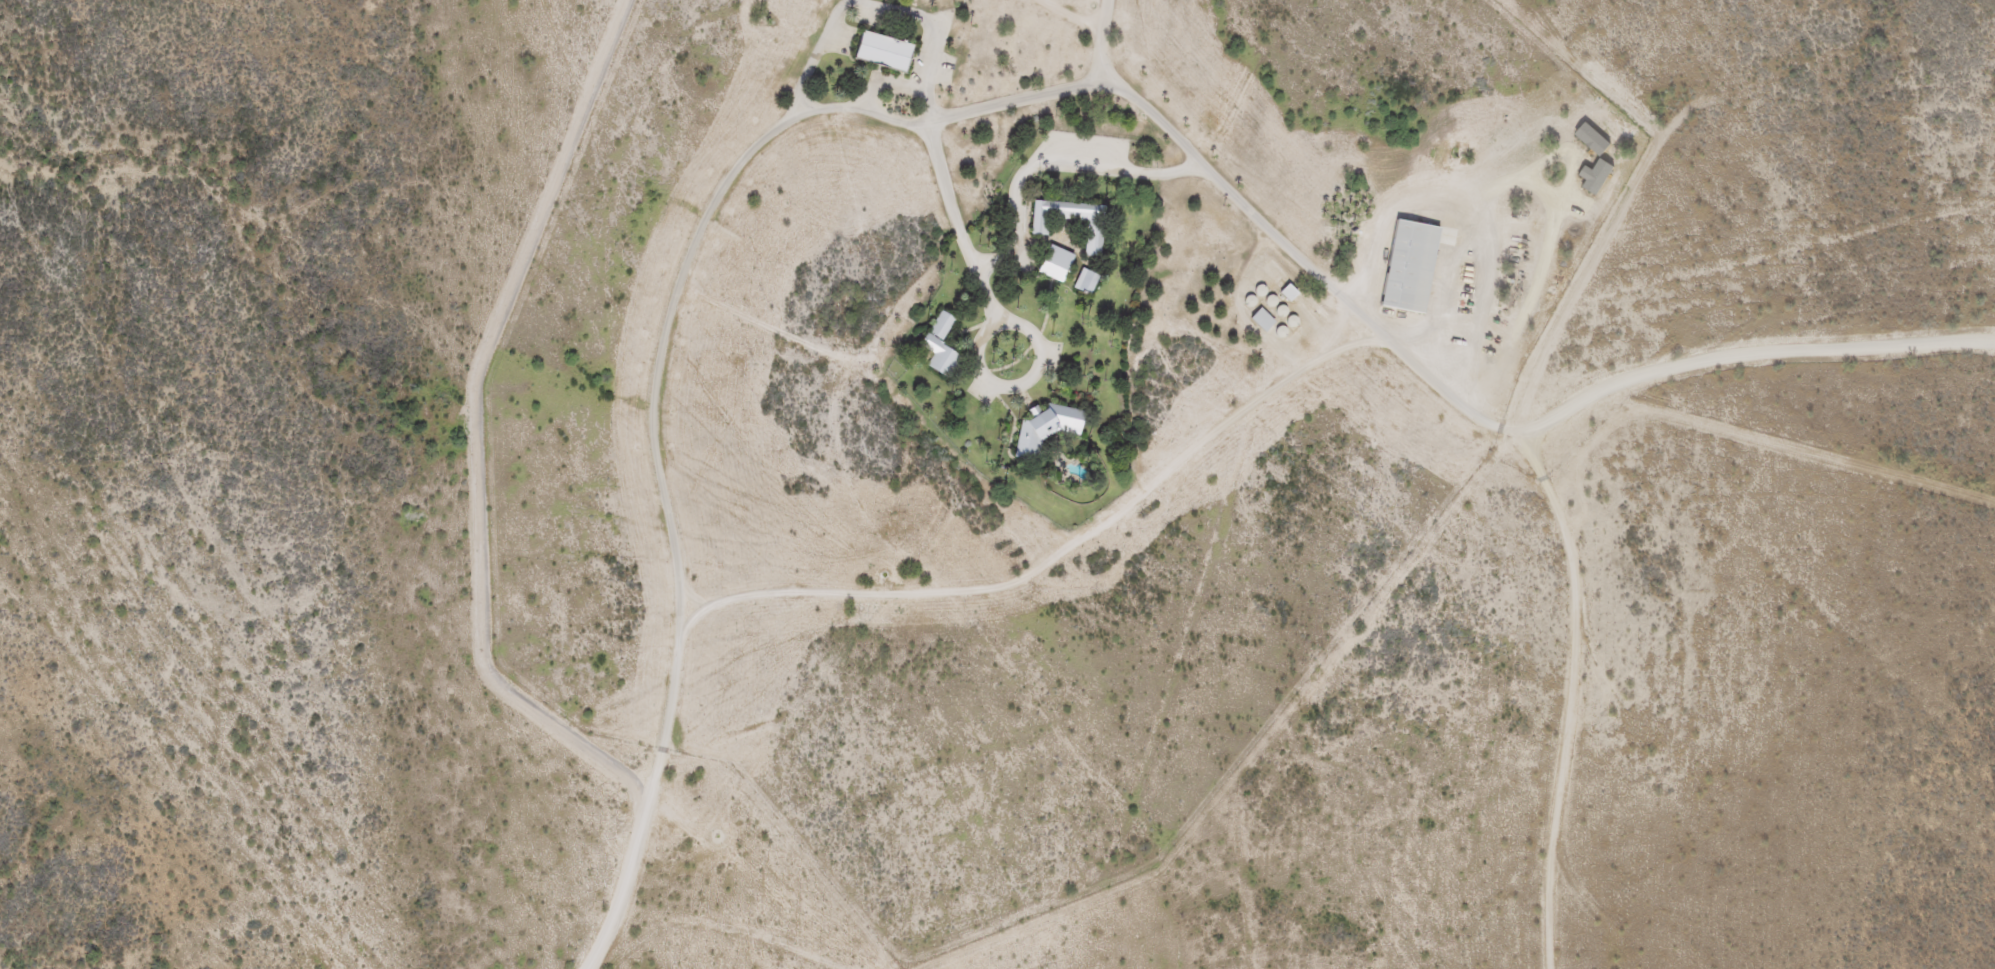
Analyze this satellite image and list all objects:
road: (1104, 29)
building: (880, 45)
building: (1091, 221)
building: (1053, 256)
building: (1407, 258)
building: (1084, 273)
building: (1287, 286)
building: (1259, 313)
building: (937, 337)
road: (1755, 353)
road: (1480, 412)
building: (1045, 420)
road: (886, 601)

